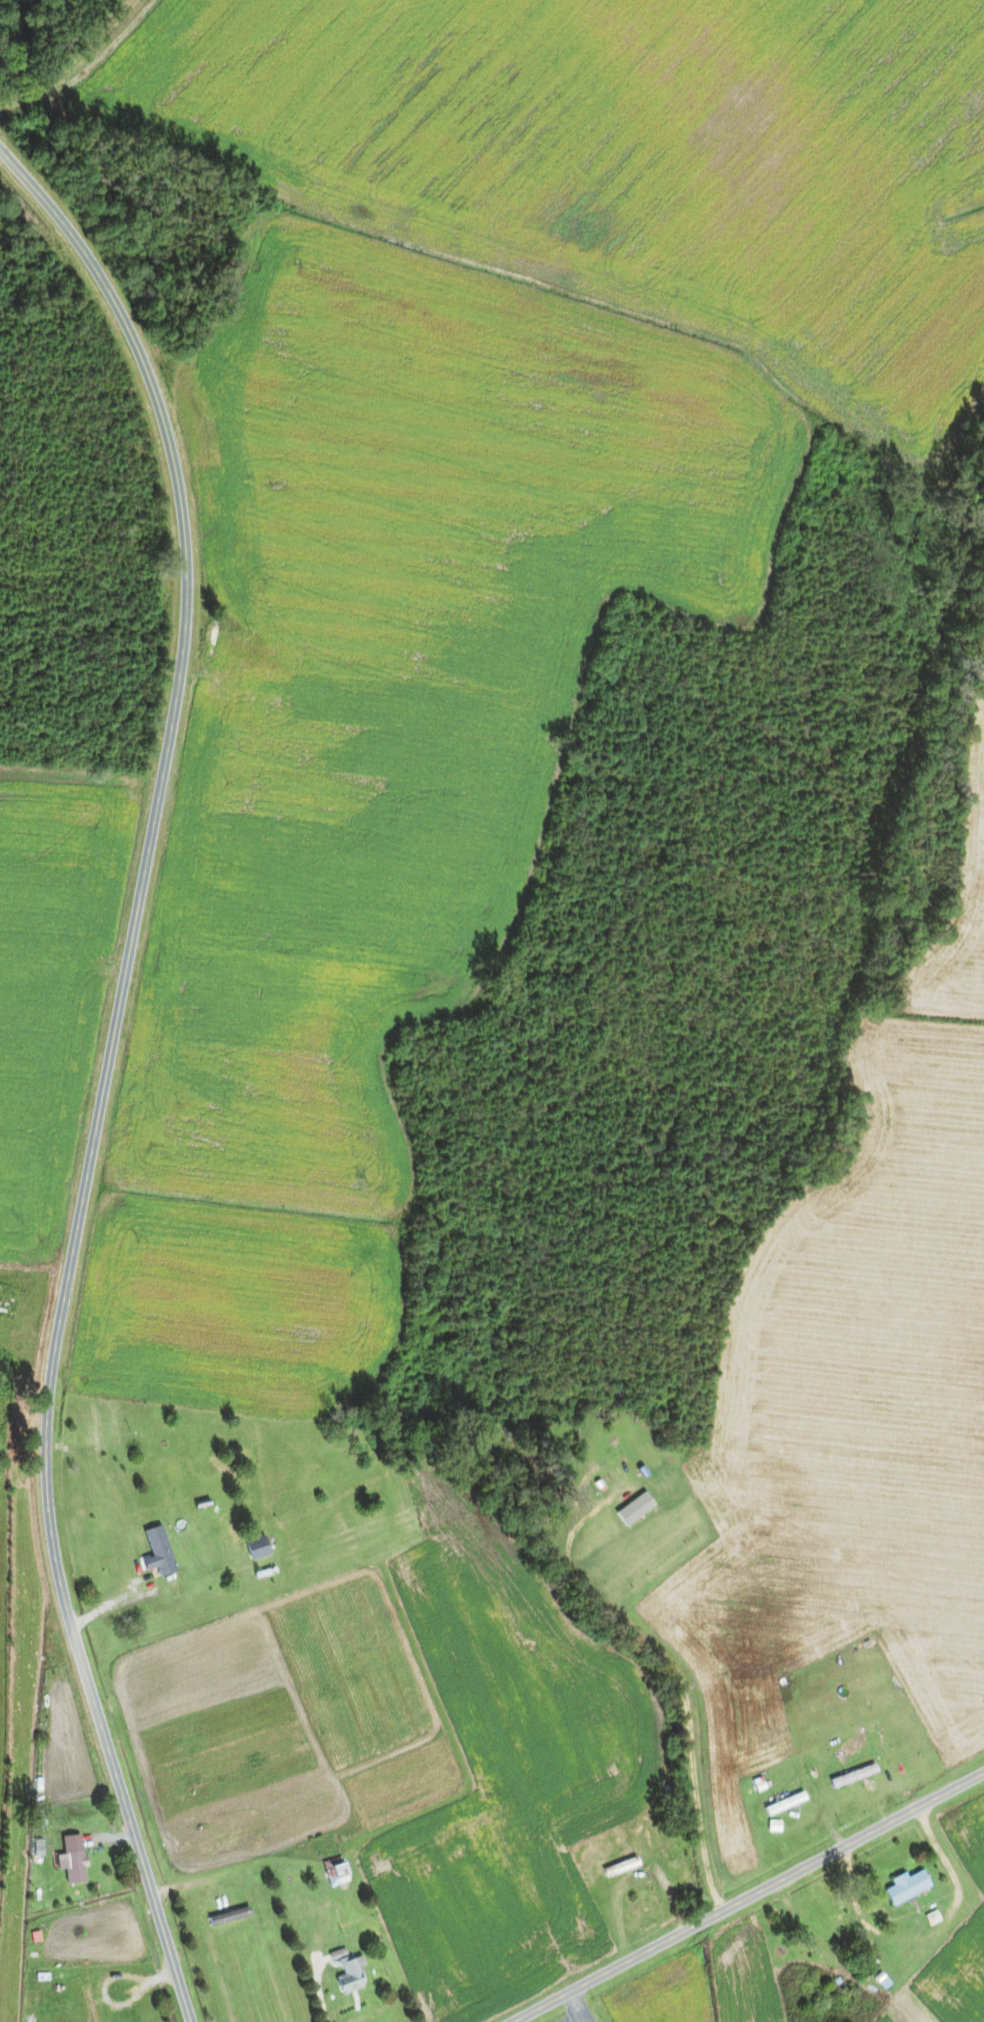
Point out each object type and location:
road: (106, 1070)
building: (257, 1548)
building: (159, 1552)
building: (861, 1771)
building: (785, 1804)
building: (72, 1865)
building: (621, 1867)
building: (337, 1871)
building: (907, 1887)
road: (748, 1897)
building: (350, 1977)
building: (38, 2017)

